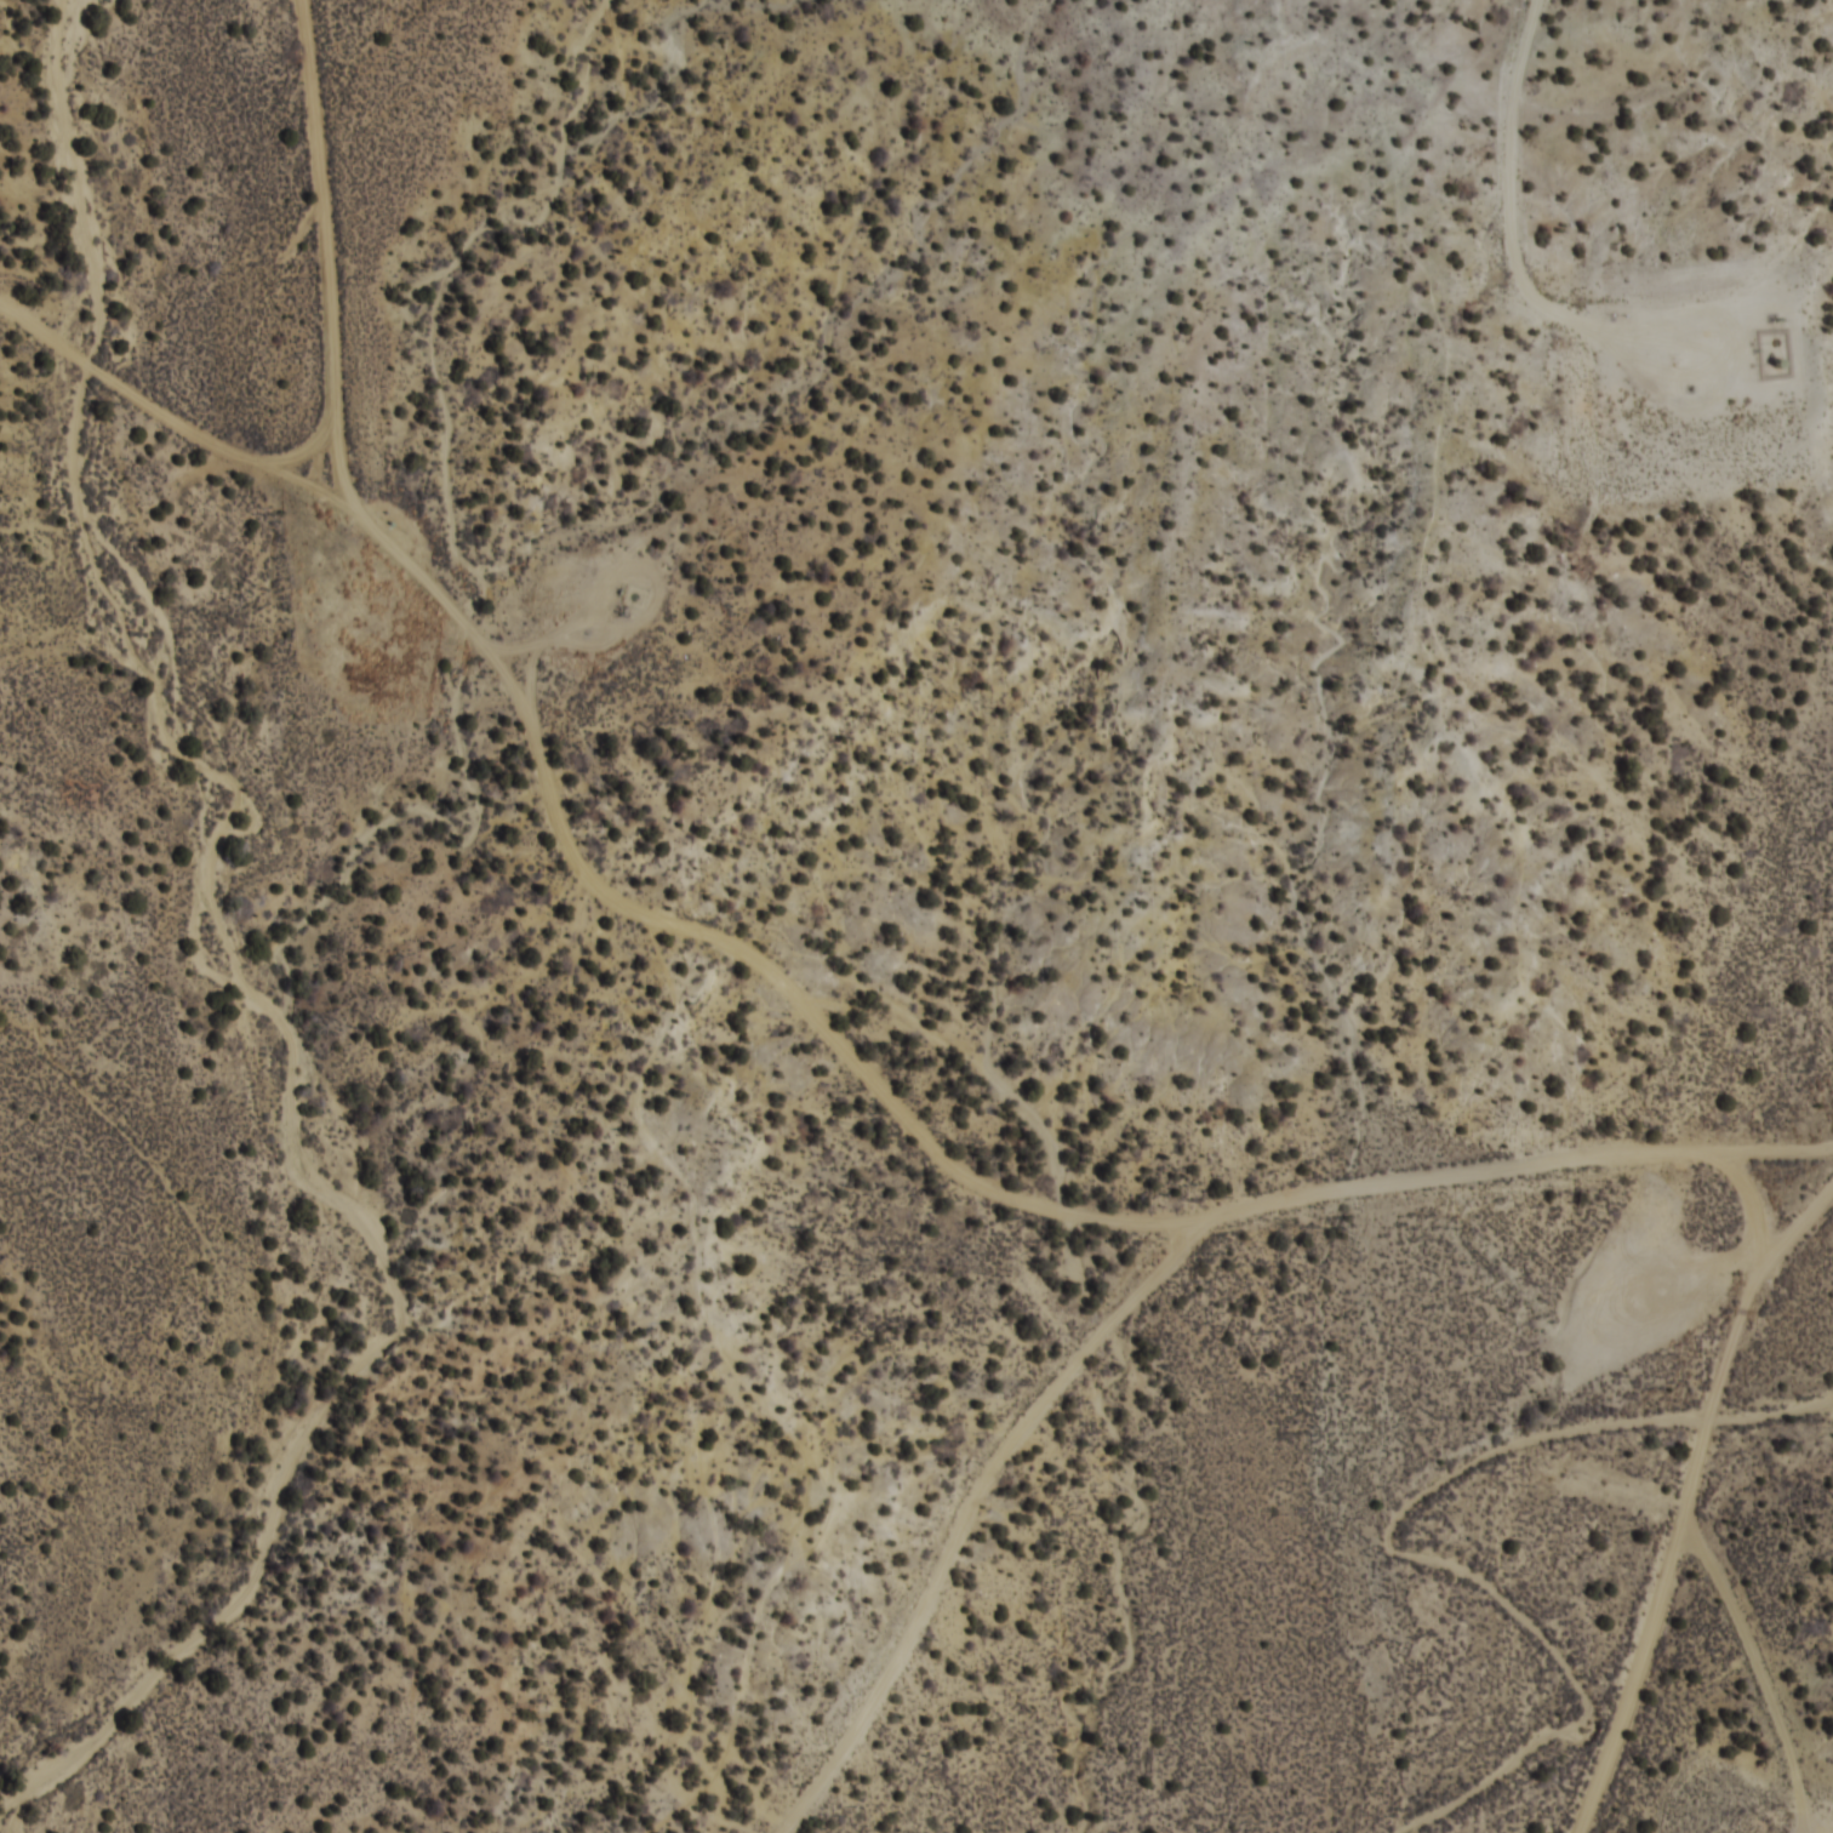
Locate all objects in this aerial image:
road: (173, 411)
river: (222, 965)
road: (786, 980)
road: (1146, 1307)
road: (1677, 1461)
road: (1077, 1480)
river: (1412, 1526)

